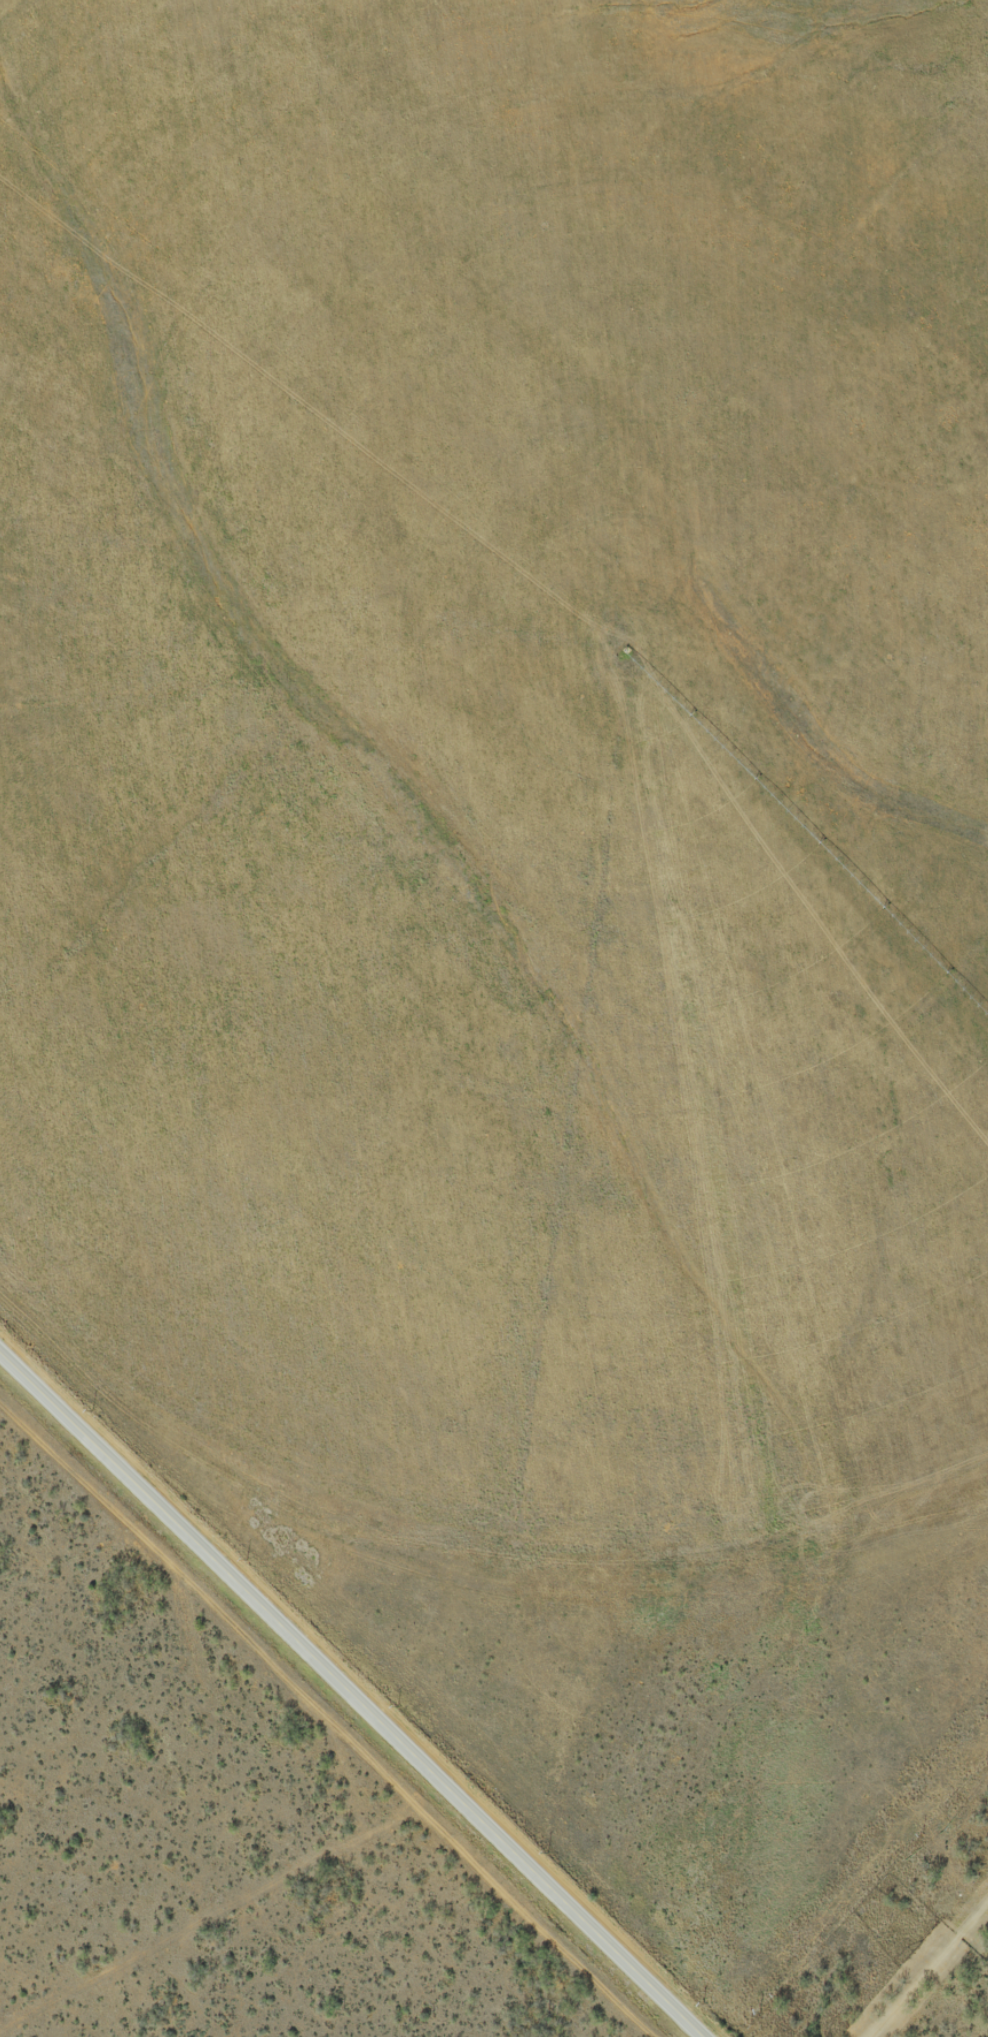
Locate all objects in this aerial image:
road: (350, 1698)
road: (960, 2009)

